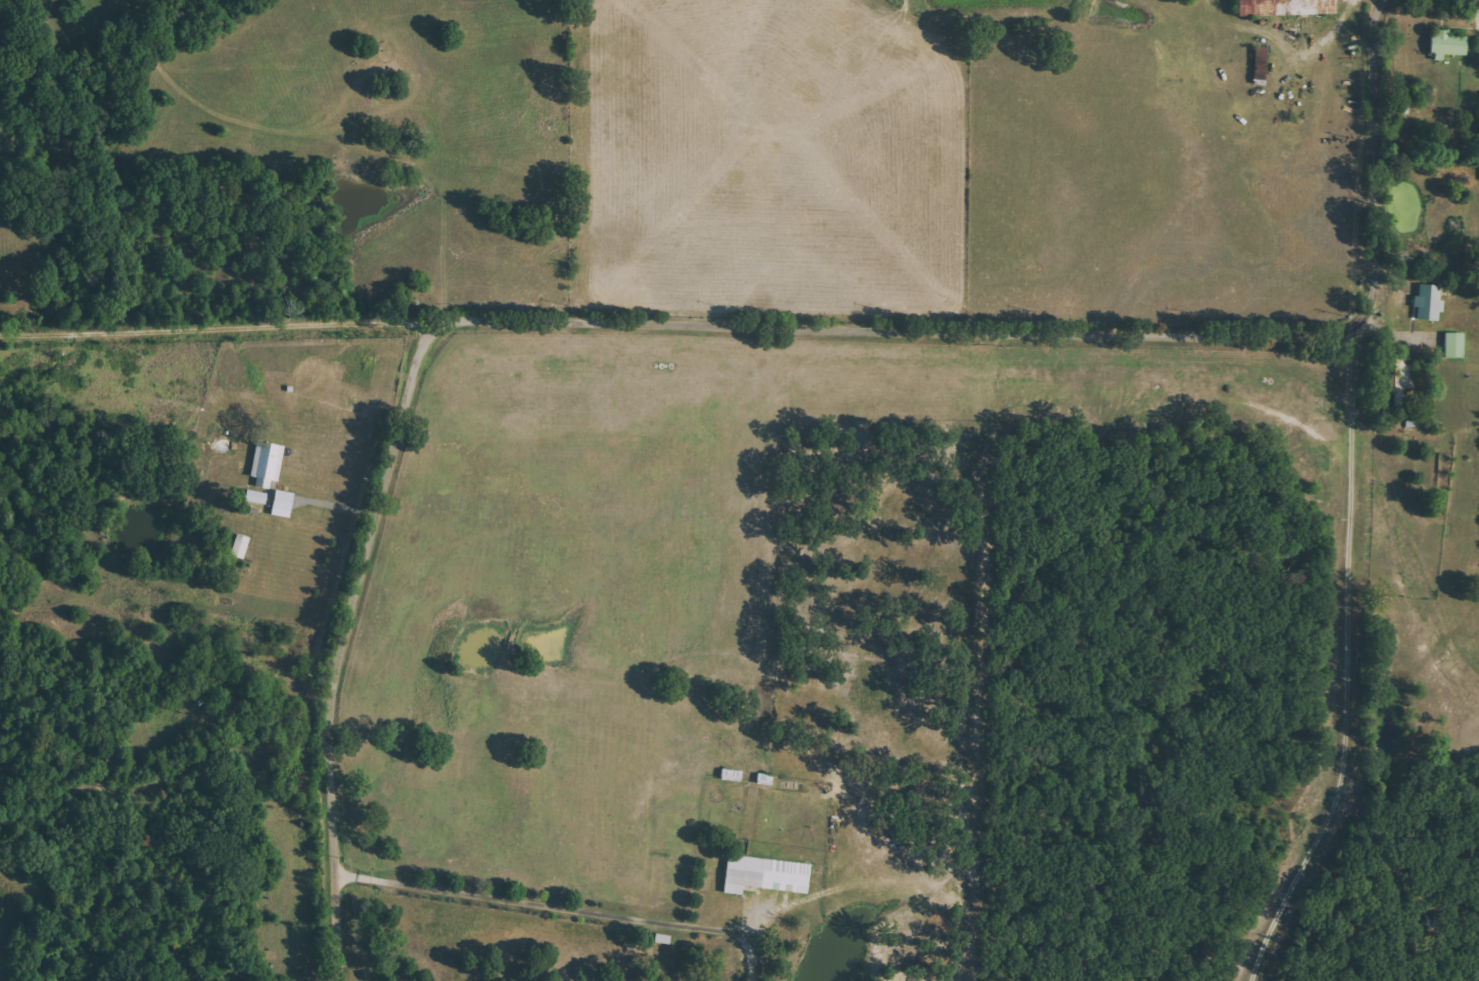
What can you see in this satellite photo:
building: (1284, 7)
building: (1448, 44)
building: (1478, 46)
building: (1260, 64)
building: (1428, 302)
road: (730, 326)
building: (1454, 345)
building: (1403, 381)
building: (267, 464)
building: (256, 497)
building: (282, 504)
building: (240, 546)
road: (1355, 661)
building: (765, 874)
road: (542, 905)
building: (198, 980)

